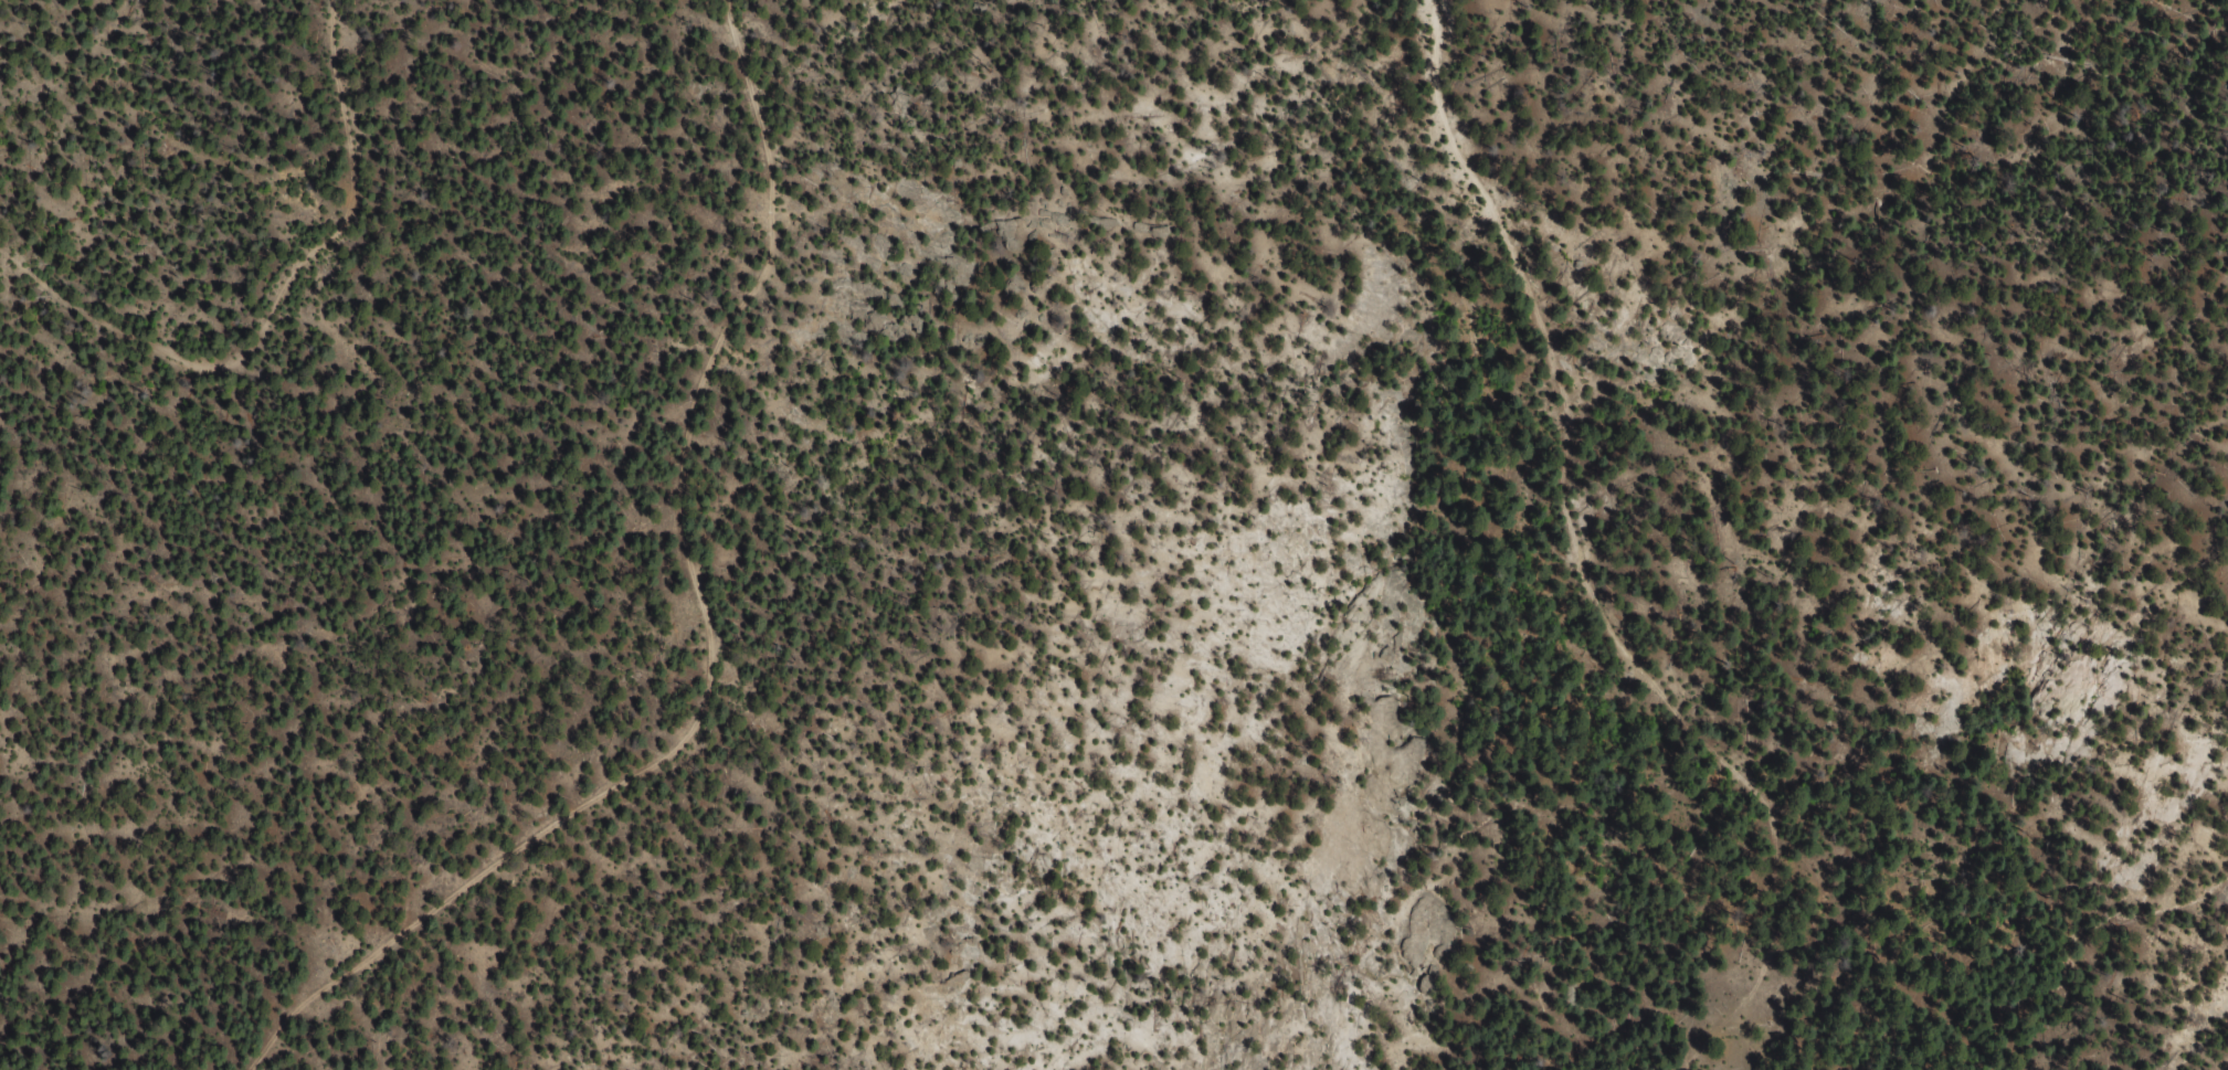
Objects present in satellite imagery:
road: (275, 307)
road: (1584, 569)
road: (706, 632)

